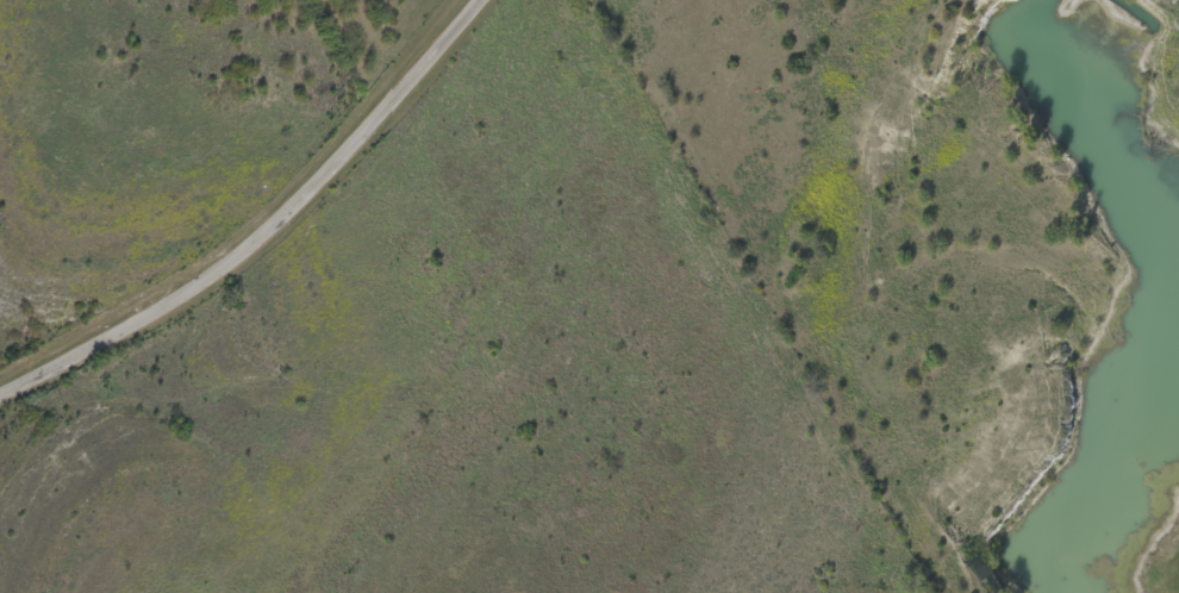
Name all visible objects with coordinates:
road: (263, 229)

